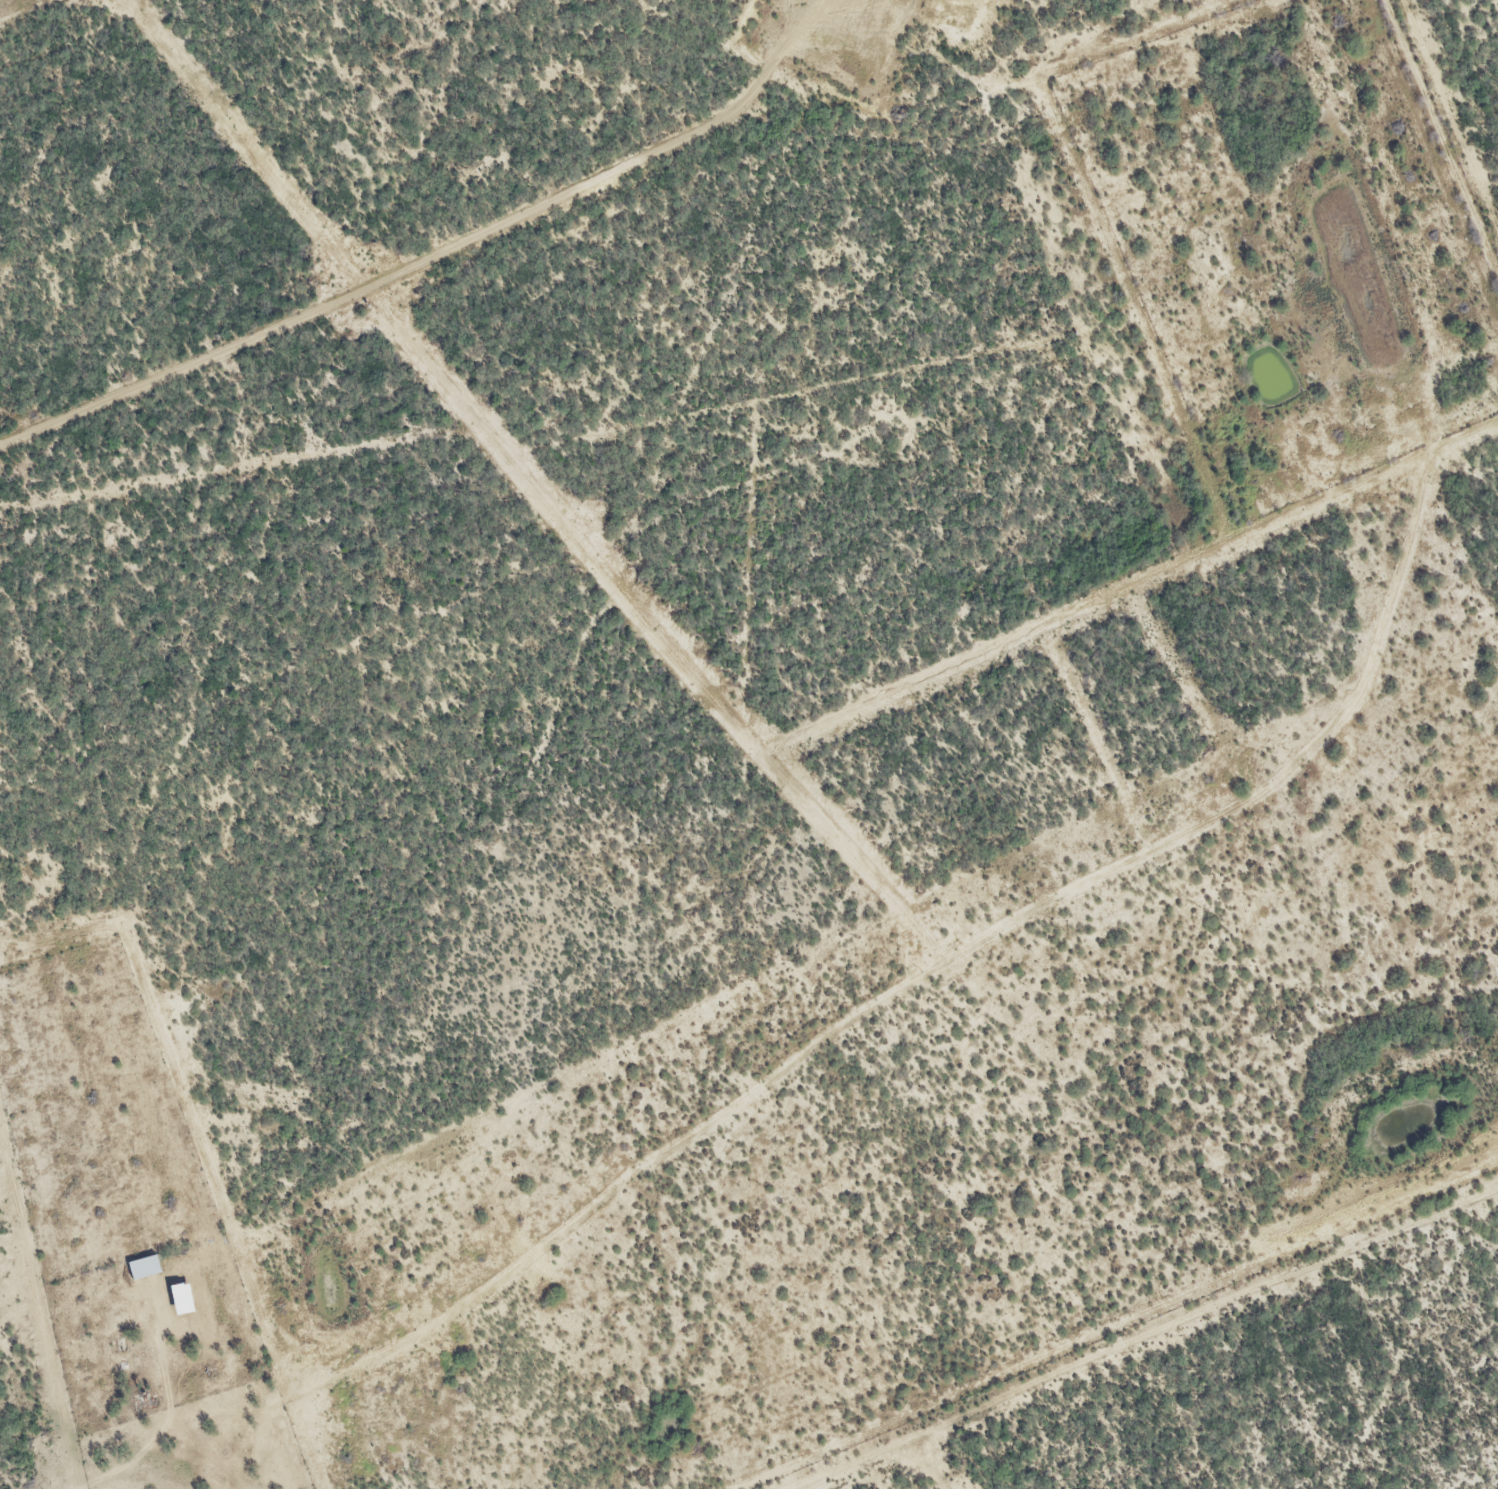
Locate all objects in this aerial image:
road: (434, 240)
building: (149, 1268)

